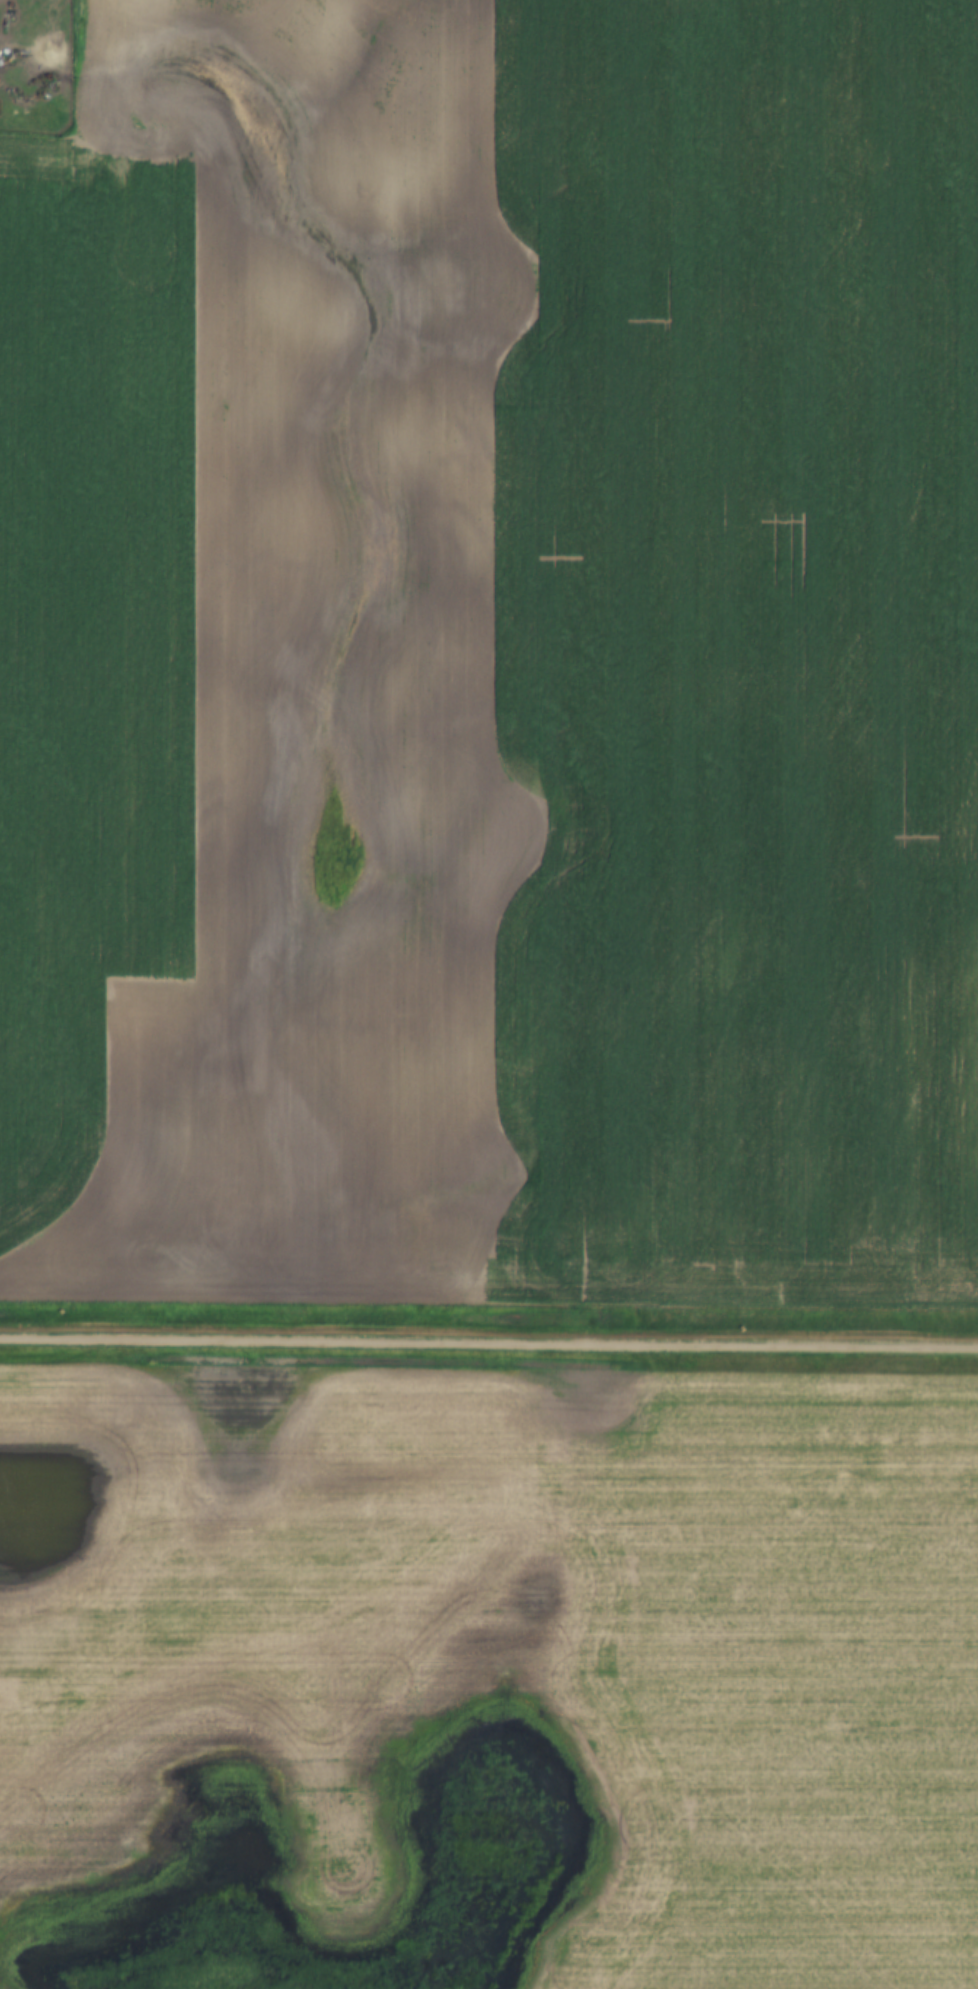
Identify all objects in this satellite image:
road: (489, 1342)

